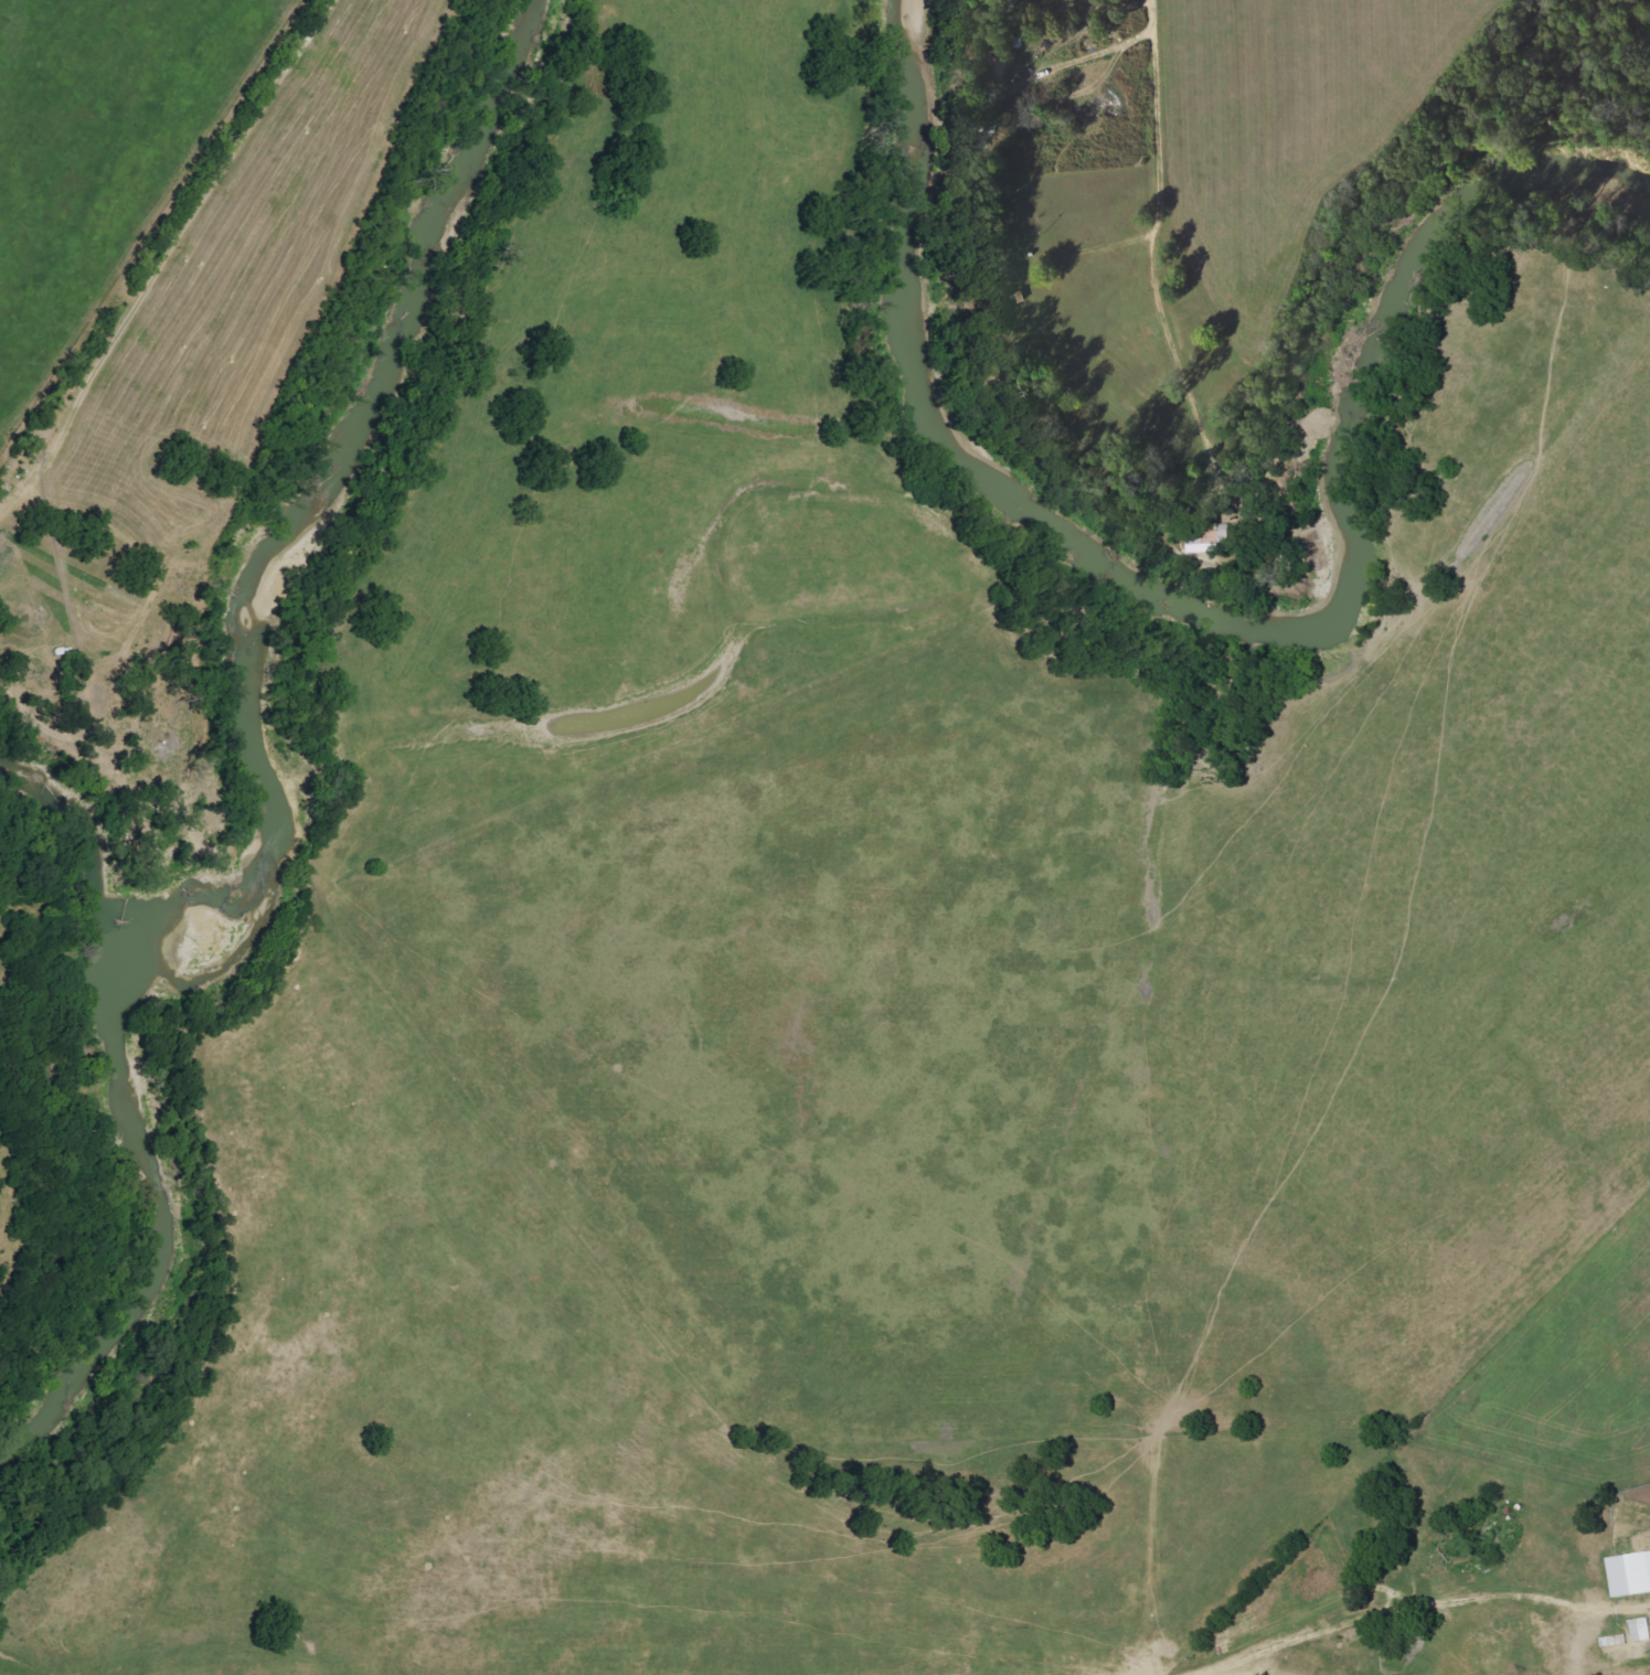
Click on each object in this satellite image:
road: (1152, 228)
building: (1211, 536)
river: (1218, 614)
river: (264, 626)
building: (1631, 1573)
road: (1530, 1586)

